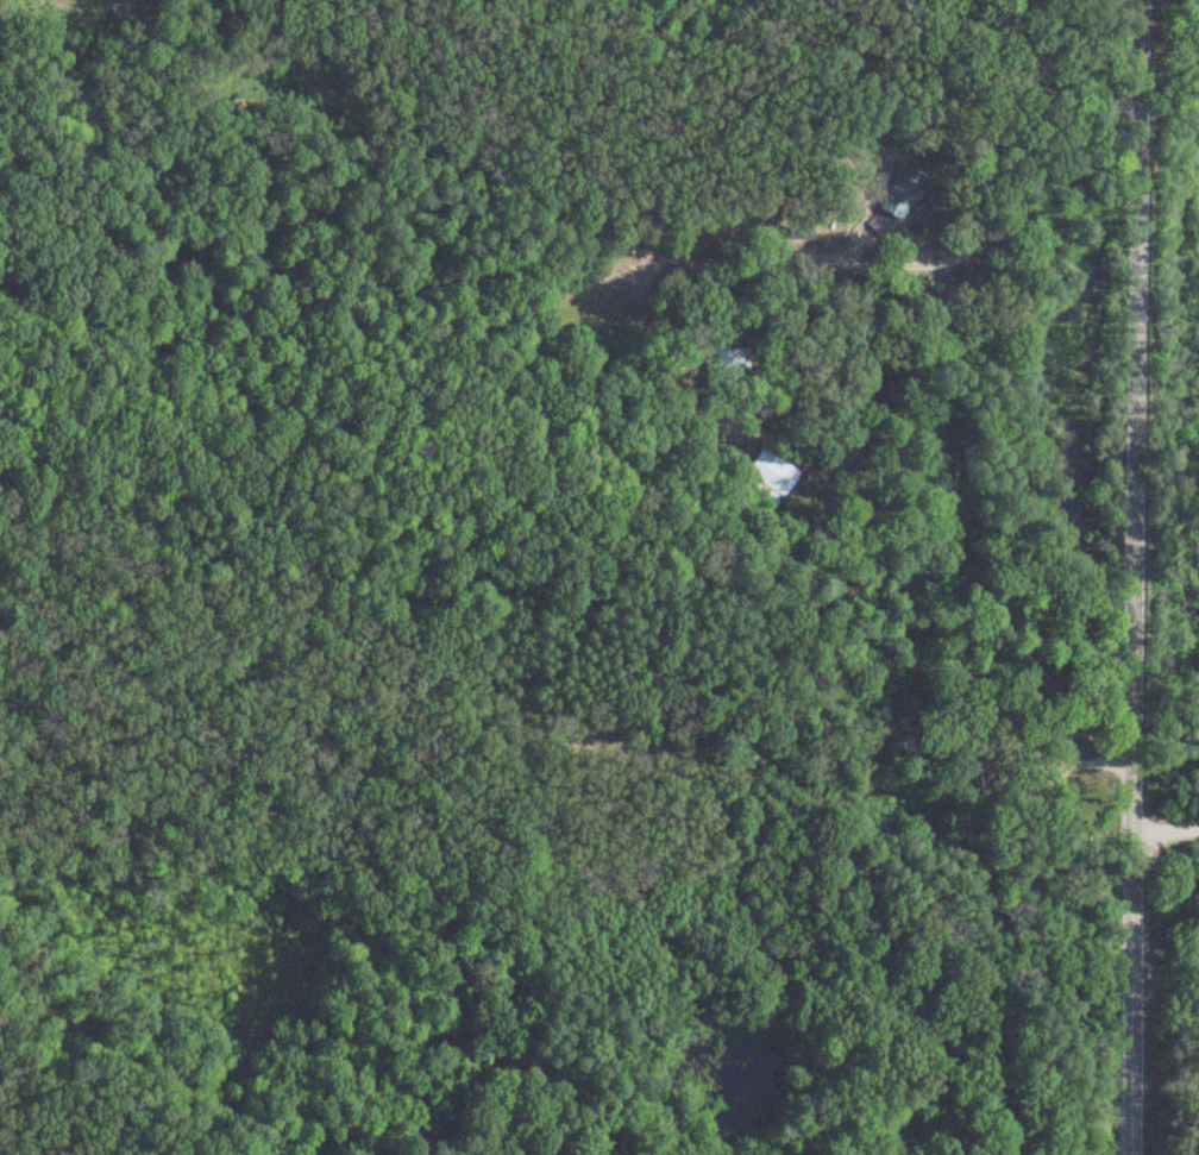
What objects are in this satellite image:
road: (894, 400)
road: (1138, 577)
road: (1169, 802)

